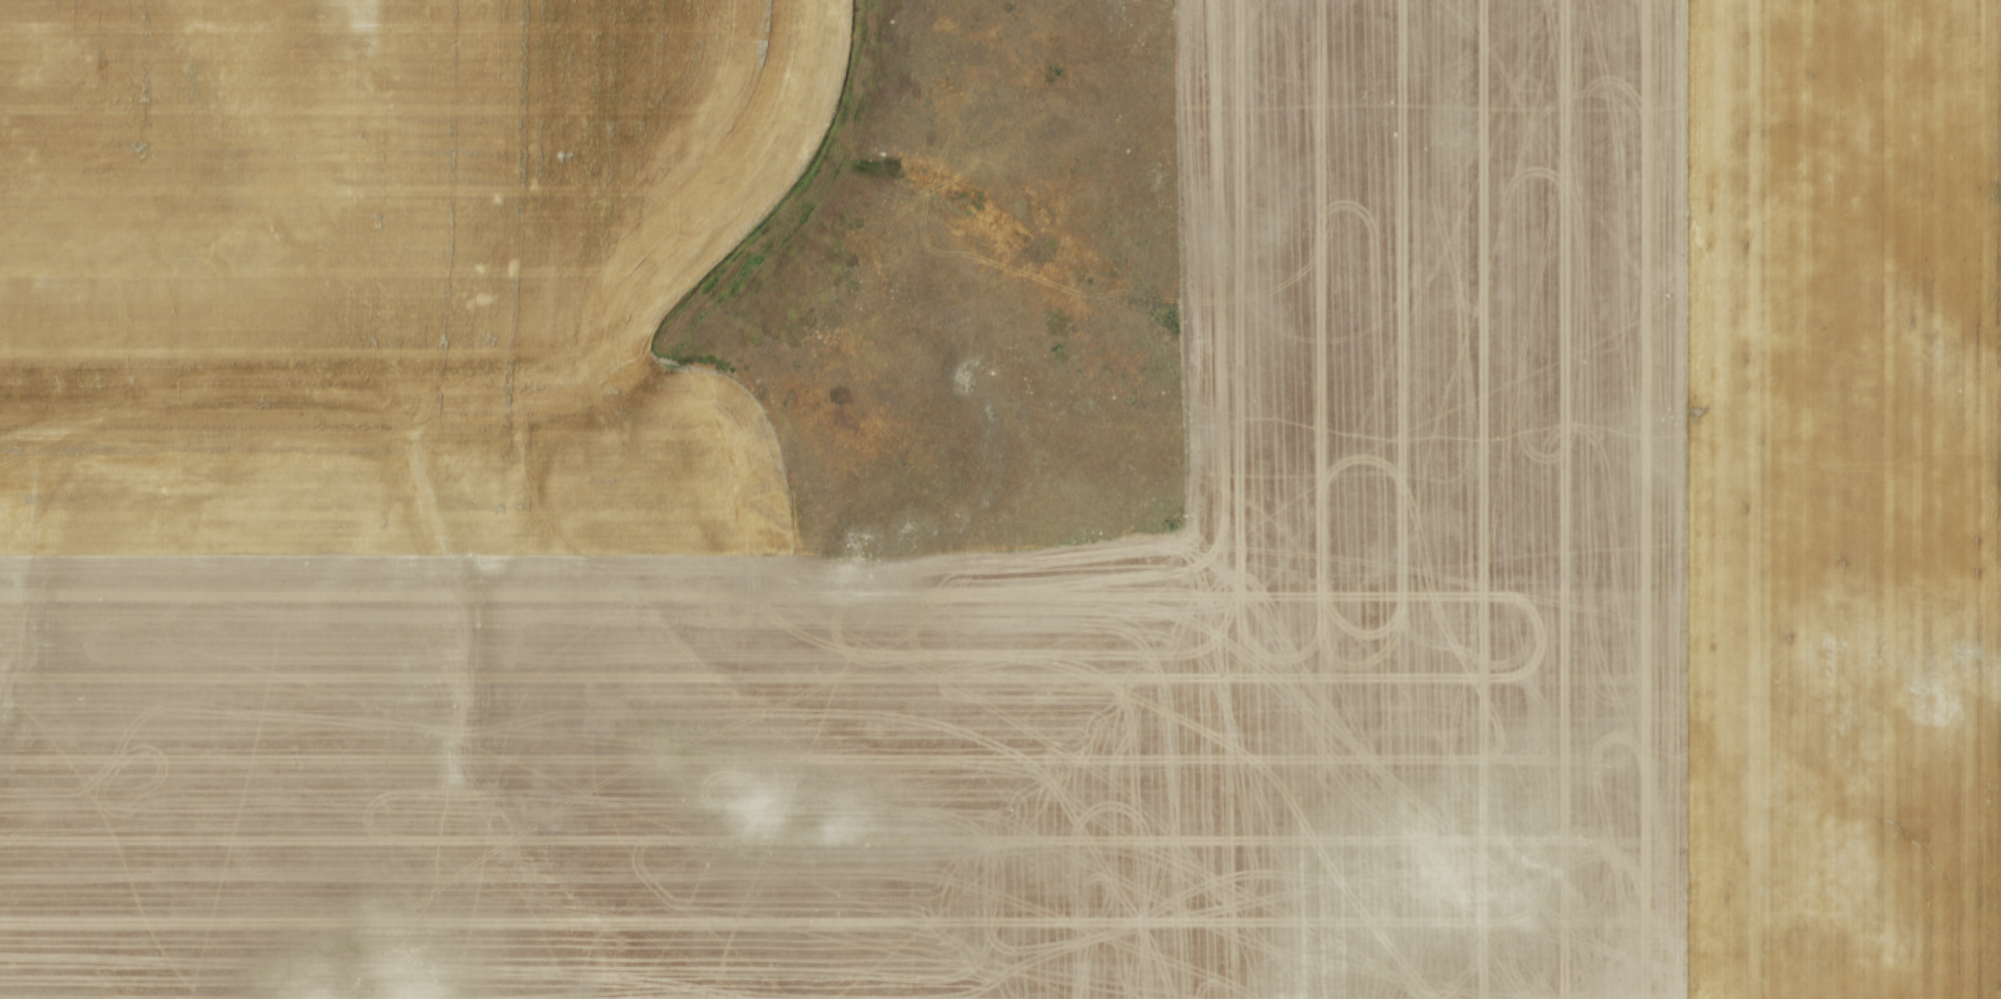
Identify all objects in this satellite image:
crop: (1000, 499)

